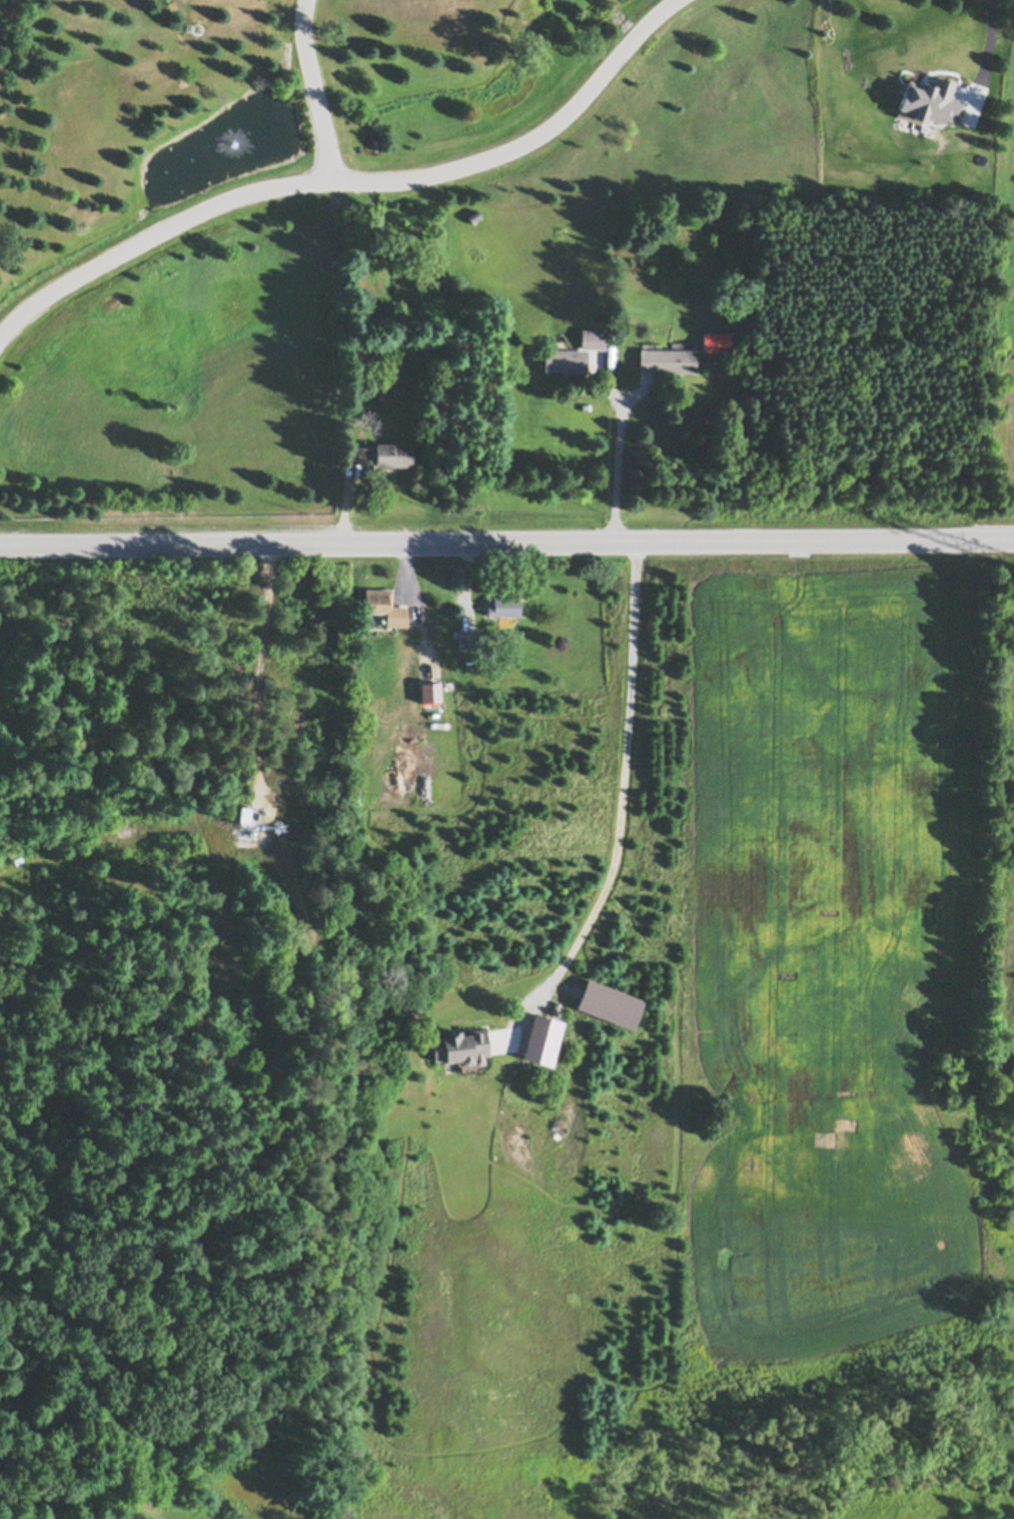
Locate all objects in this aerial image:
road: (984, 48)
road: (313, 90)
road: (347, 180)
building: (474, 216)
building: (592, 338)
building: (716, 340)
building: (669, 358)
building: (565, 359)
building: (362, 454)
building: (393, 454)
road: (624, 465)
road: (506, 537)
building: (385, 606)
building: (504, 606)
building: (420, 617)
building: (468, 638)
building: (449, 685)
building: (431, 692)
road: (629, 792)
building: (245, 814)
building: (239, 815)
building: (422, 1042)
building: (462, 1048)
building: (519, 1060)

